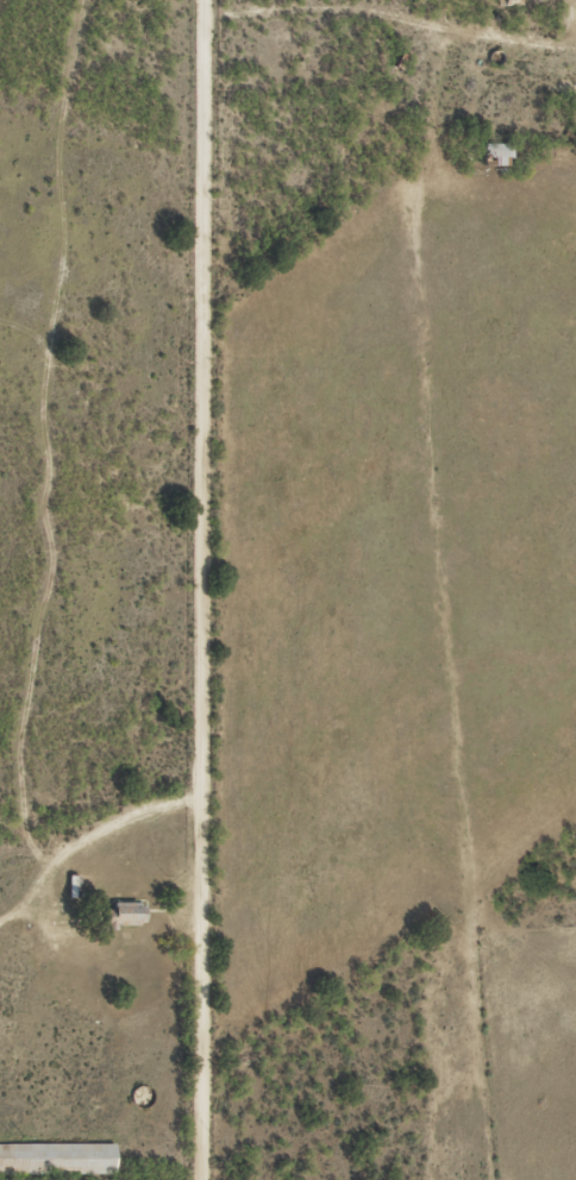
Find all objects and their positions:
building: (514, 2)
building: (499, 155)
road: (471, 521)
road: (182, 589)
building: (131, 914)
building: (57, 1159)

